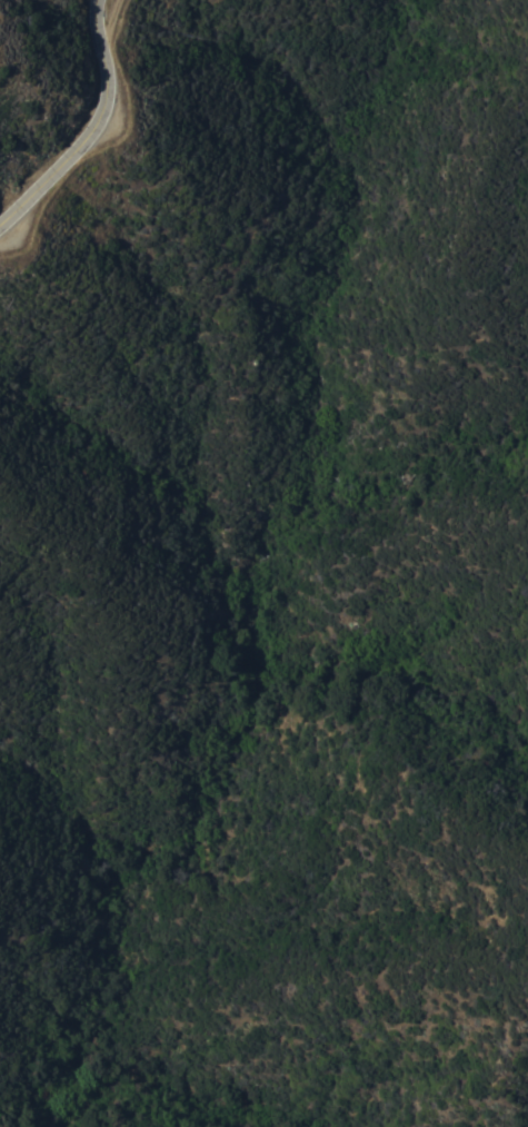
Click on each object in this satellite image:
road: (94, 131)

